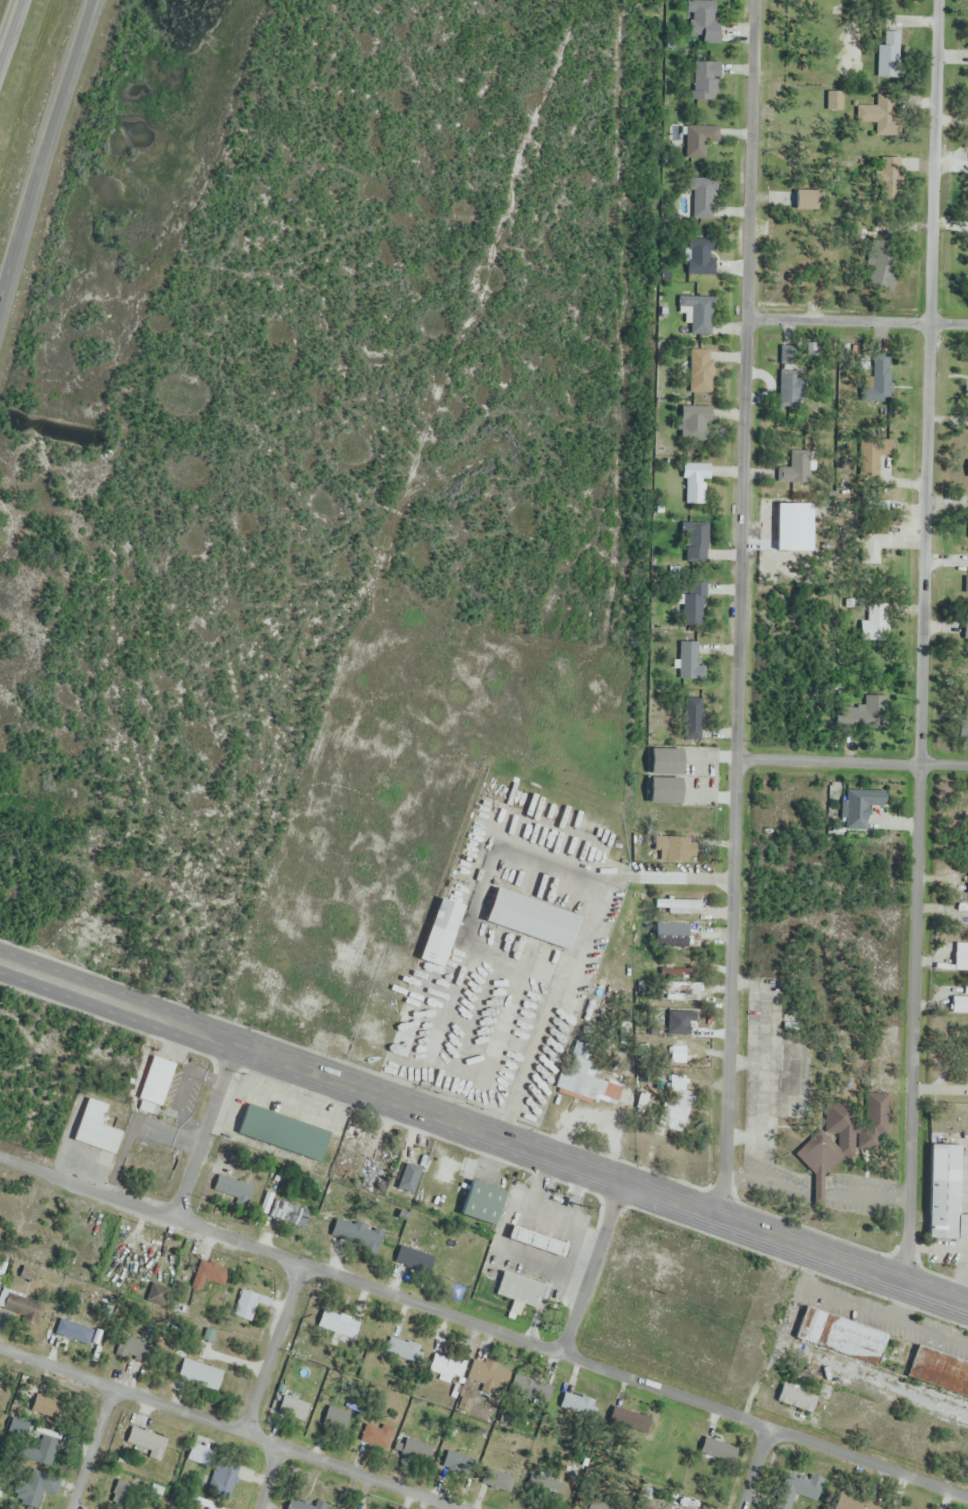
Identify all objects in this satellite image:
building: (703, 21)
road: (10, 29)
building: (889, 56)
building: (706, 81)
building: (835, 101)
building: (879, 115)
building: (700, 141)
road: (44, 158)
building: (884, 178)
building: (703, 199)
building: (808, 201)
building: (701, 257)
building: (880, 267)
building: (698, 314)
road: (856, 322)
building: (700, 371)
building: (792, 388)
building: (872, 392)
building: (695, 423)
building: (871, 455)
building: (798, 468)
building: (695, 484)
building: (695, 542)
building: (875, 549)
road: (739, 599)
building: (693, 605)
building: (875, 623)
building: (965, 632)
road: (921, 633)
building: (690, 662)
building: (967, 700)
building: (856, 718)
building: (693, 720)
building: (666, 762)
road: (852, 762)
building: (665, 791)
building: (860, 809)
building: (671, 849)
building: (680, 906)
building: (531, 920)
building: (441, 933)
building: (674, 938)
road: (578, 947)
building: (961, 957)
building: (681, 991)
building: (960, 1005)
building: (404, 1038)
building: (678, 1055)
building: (587, 1078)
building: (156, 1081)
building: (674, 1103)
road: (484, 1118)
road: (202, 1123)
building: (284, 1132)
building: (846, 1135)
building: (97, 1136)
road: (484, 1138)
building: (346, 1150)
building: (412, 1183)
building: (233, 1189)
building: (946, 1194)
building: (482, 1203)
building: (289, 1214)
building: (355, 1235)
building: (538, 1241)
building: (409, 1259)
road: (593, 1259)
building: (208, 1277)
building: (522, 1292)
building: (157, 1295)
building: (18, 1305)
building: (247, 1306)
building: (338, 1325)
road: (484, 1326)
building: (74, 1332)
building: (841, 1336)
building: (131, 1347)
road: (269, 1349)
building: (404, 1351)
building: (441, 1367)
building: (939, 1372)
building: (200, 1375)
building: (486, 1376)
building: (534, 1391)
building: (5, 1399)
building: (797, 1400)
building: (577, 1407)
building: (48, 1408)
building: (293, 1409)
building: (335, 1420)
building: (625, 1423)
building: (20, 1429)
road: (225, 1429)
building: (377, 1436)
building: (148, 1443)
road: (89, 1448)
building: (716, 1448)
building: (416, 1452)
building: (37, 1456)
road: (752, 1468)
building: (224, 1472)
road: (265, 1478)
building: (499, 1480)
building: (544, 1483)
building: (29, 1484)
building: (790, 1490)
building: (305, 1505)
building: (601, 1506)
building: (678, 1507)

